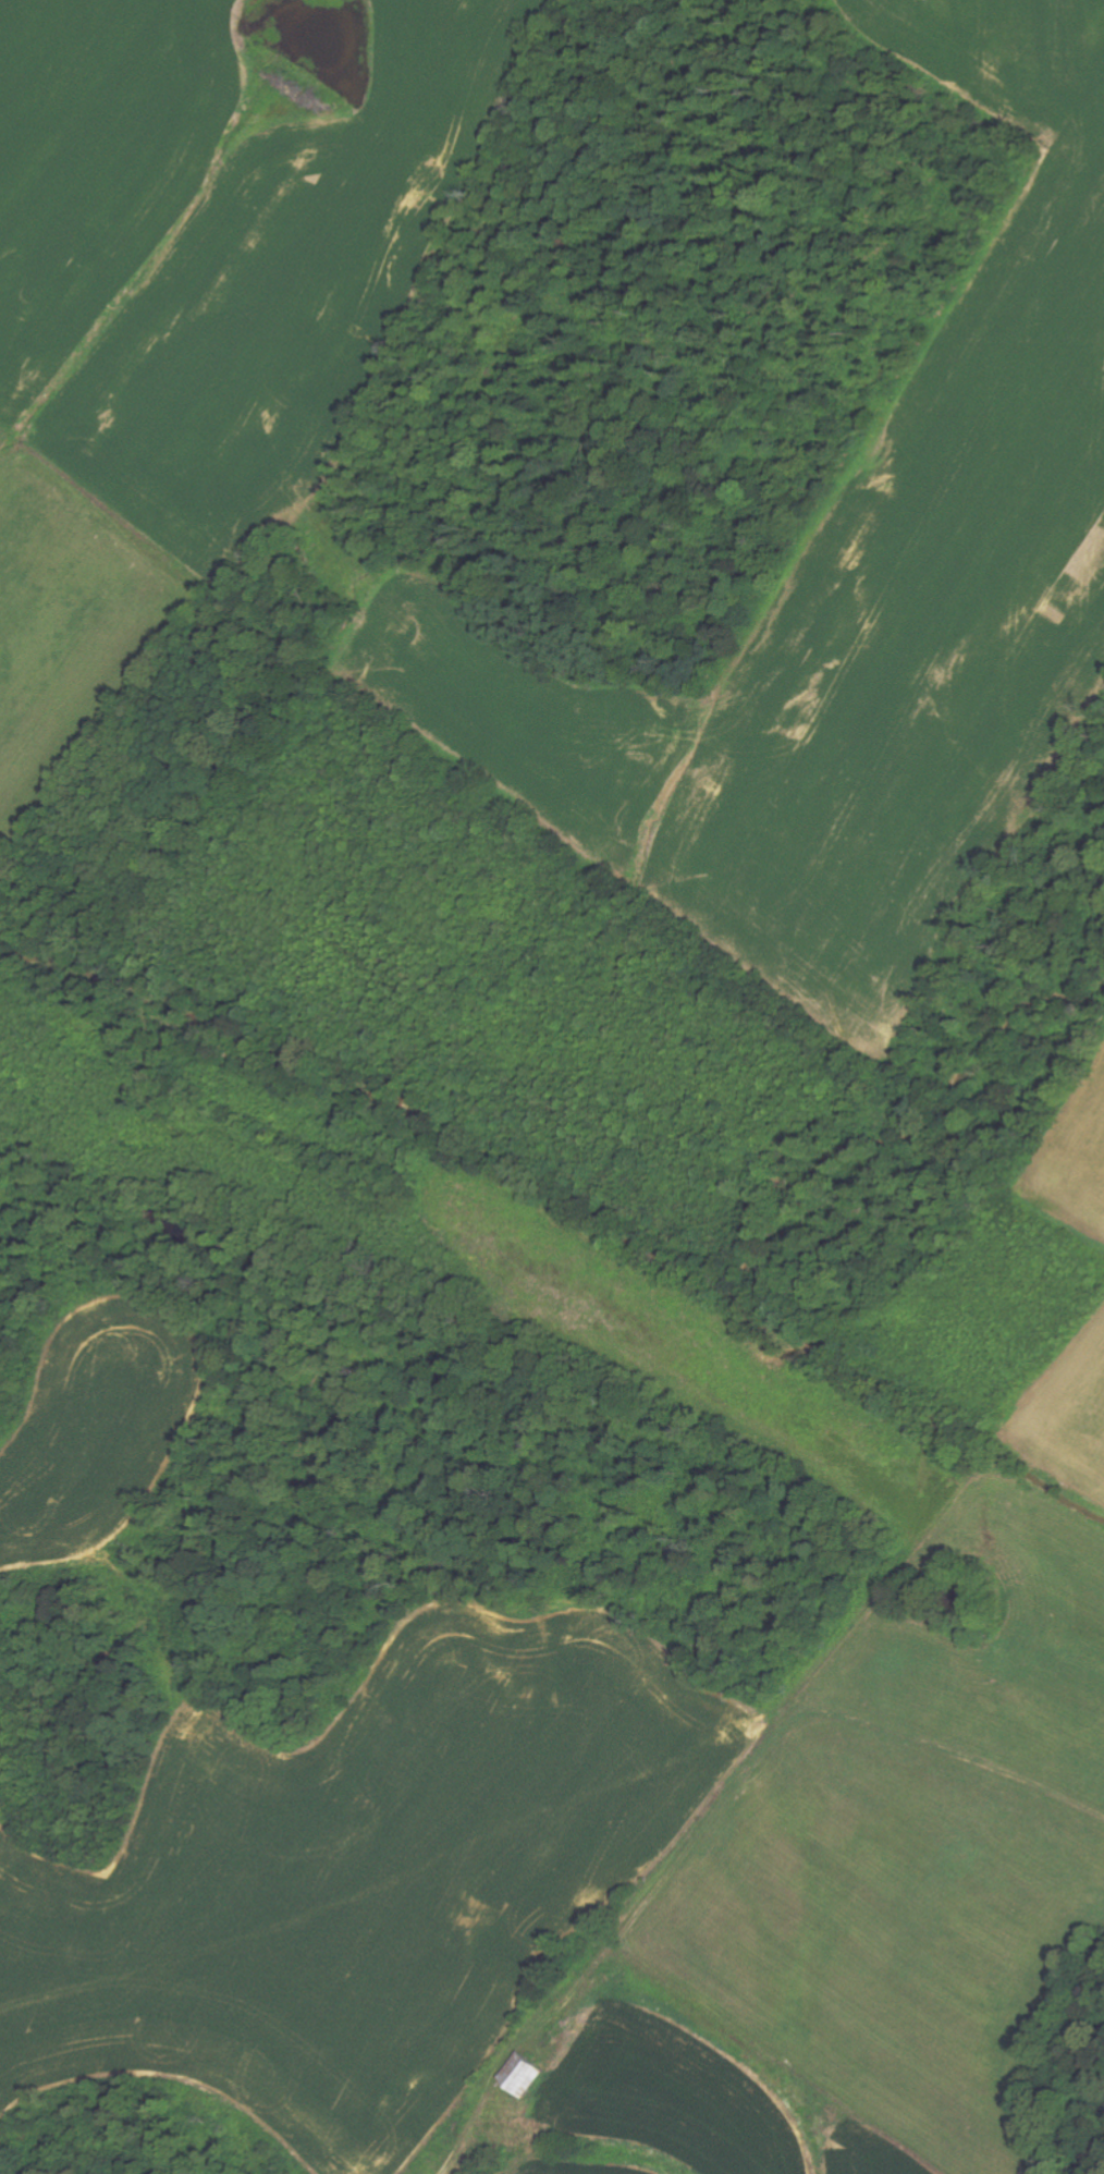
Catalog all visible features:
road: (702, 1840)
building: (525, 2074)
road: (111, 2145)

